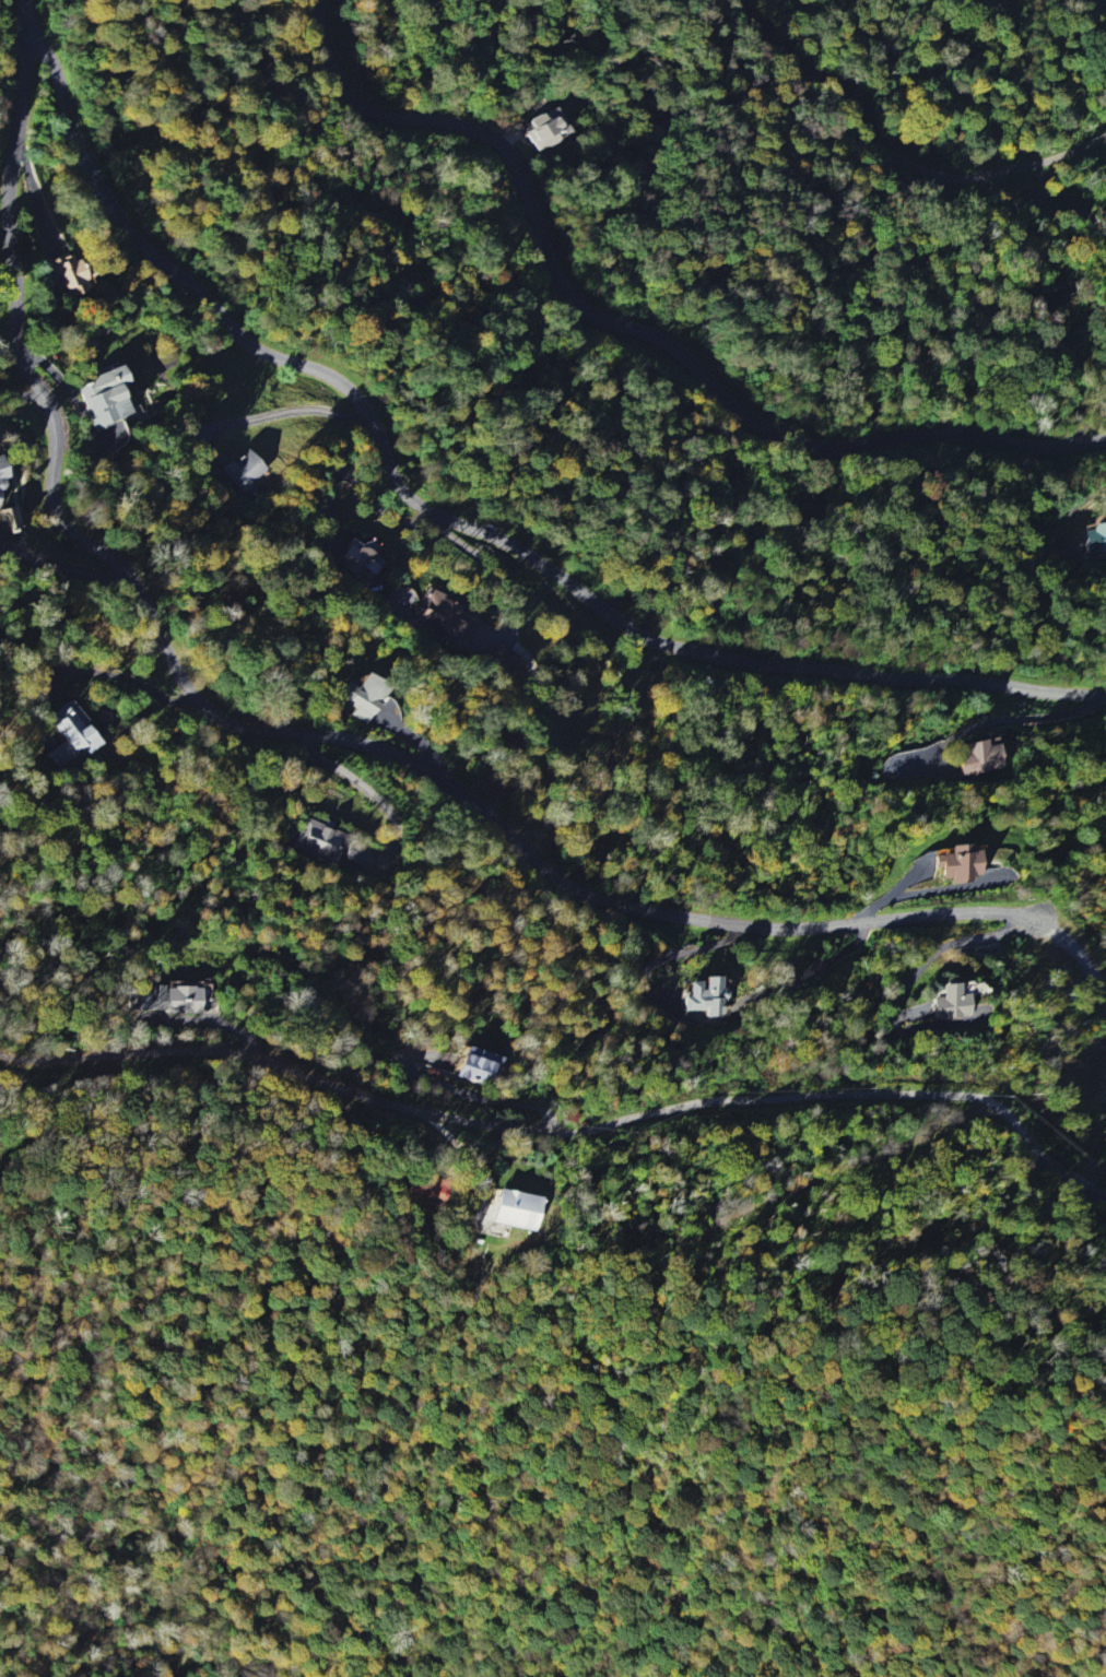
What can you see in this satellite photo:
building: (536, 130)
road: (892, 152)
building: (70, 273)
road: (632, 333)
building: (98, 398)
building: (240, 470)
road: (463, 527)
building: (1094, 538)
building: (354, 560)
building: (440, 610)
road: (121, 676)
building: (360, 698)
road: (261, 729)
building: (68, 736)
building: (976, 758)
building: (317, 842)
building: (355, 852)
building: (956, 863)
building: (701, 995)
building: (162, 1000)
building: (950, 1000)
building: (476, 1065)
road: (567, 1134)
building: (425, 1191)
building: (513, 1208)

